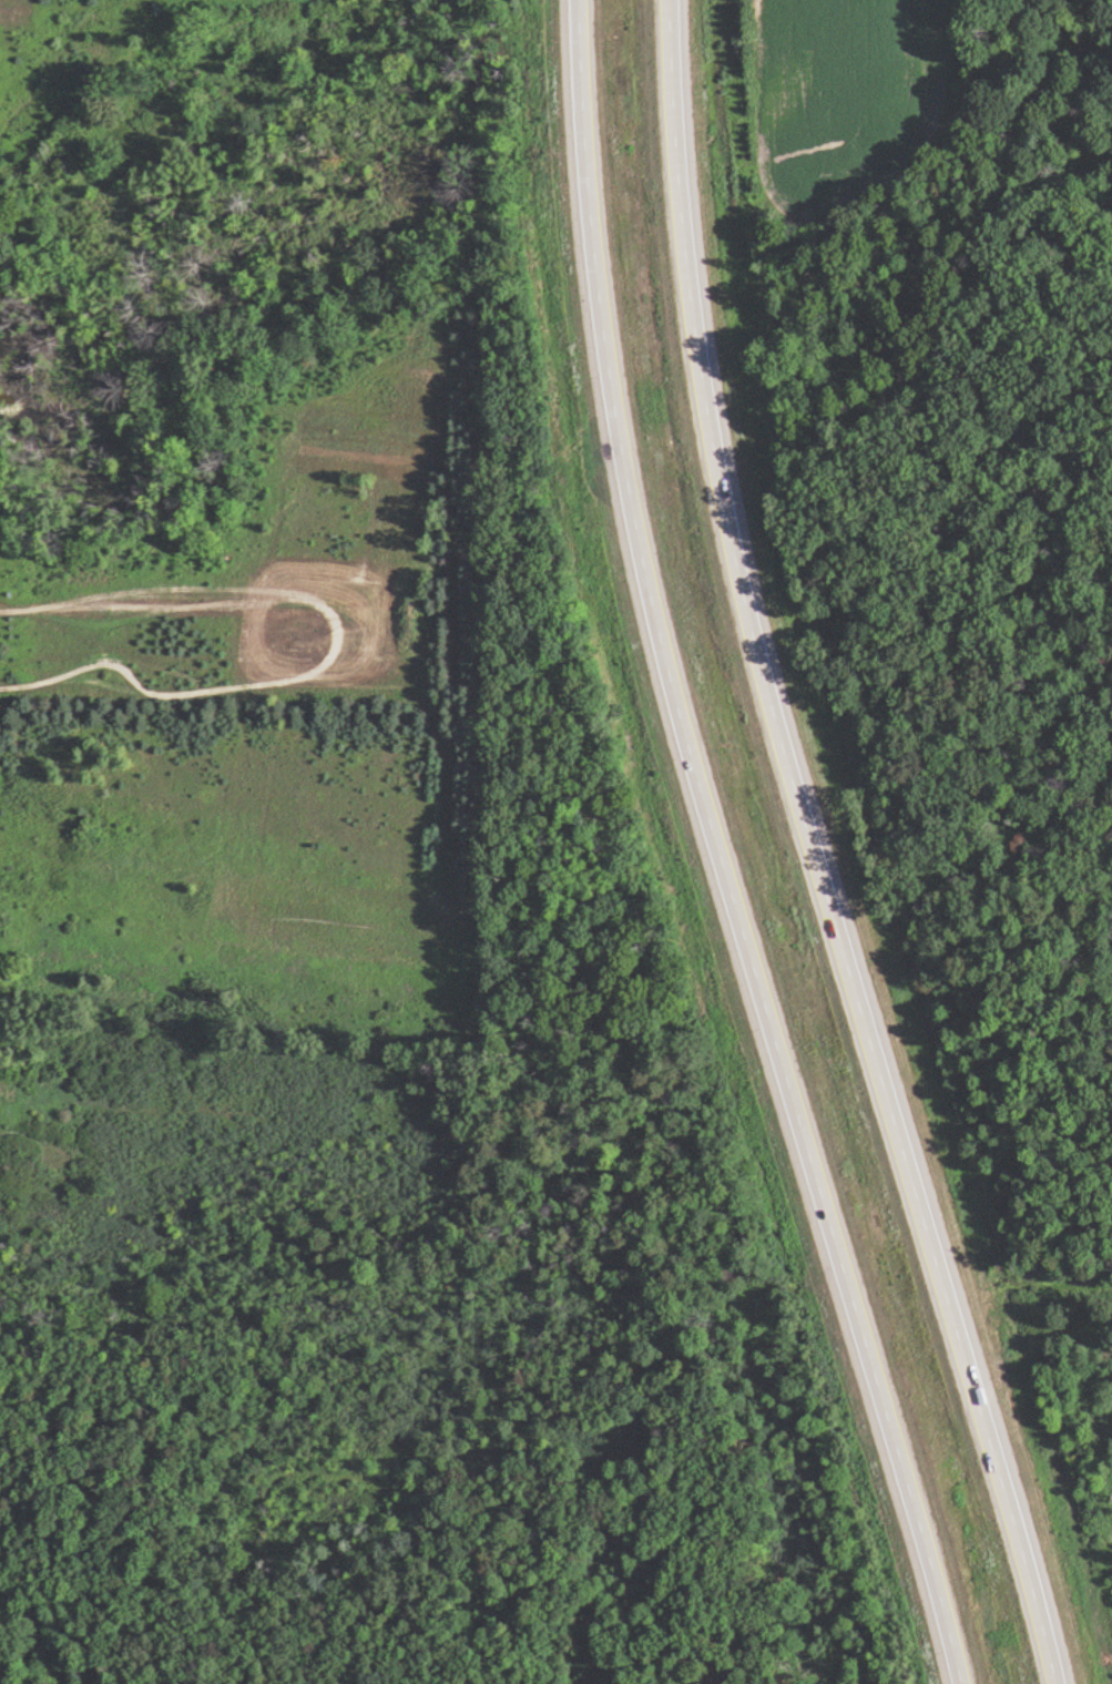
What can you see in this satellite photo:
road: (819, 850)
road: (724, 851)

